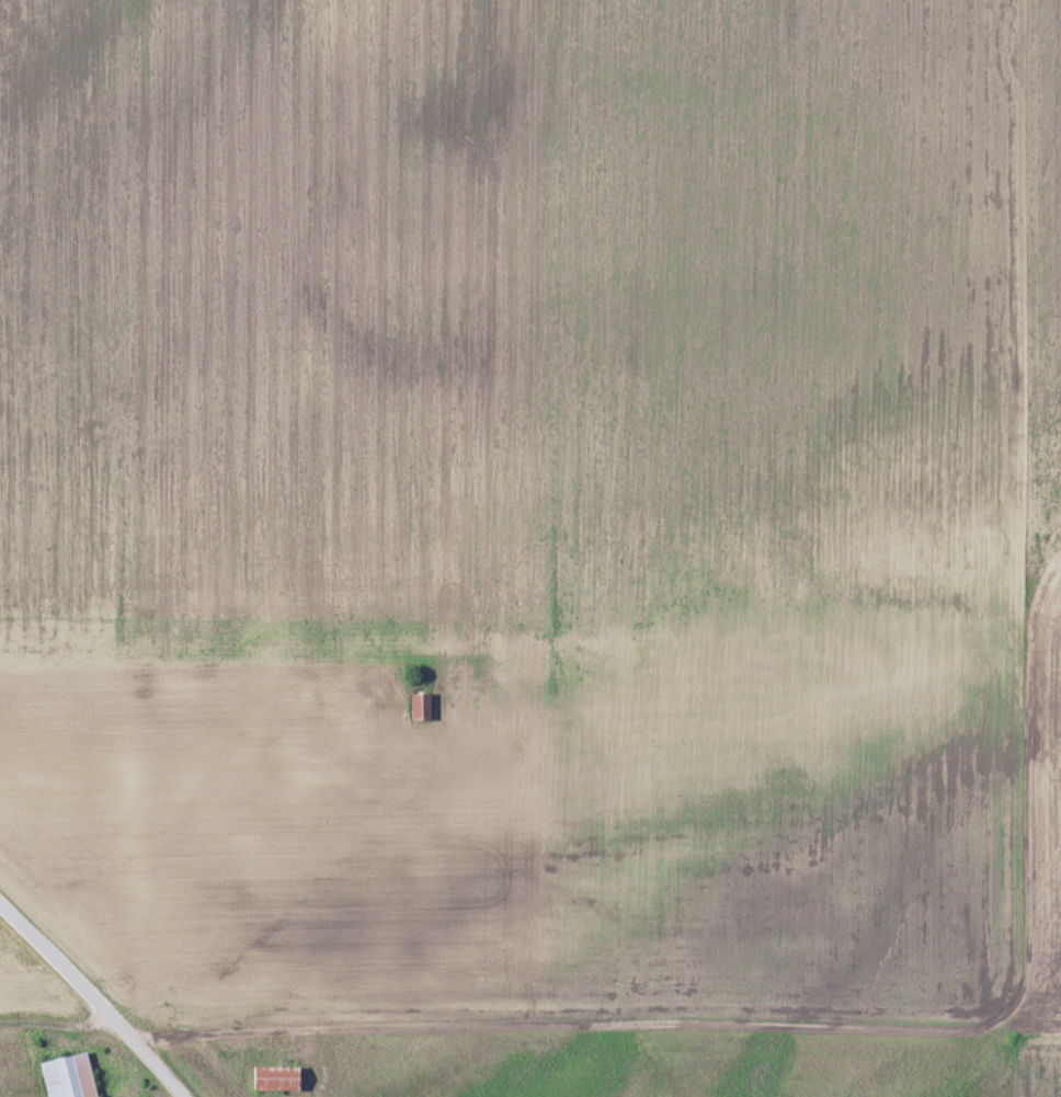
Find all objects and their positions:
building: (421, 708)
road: (65, 1033)
building: (69, 1077)
building: (277, 1079)

